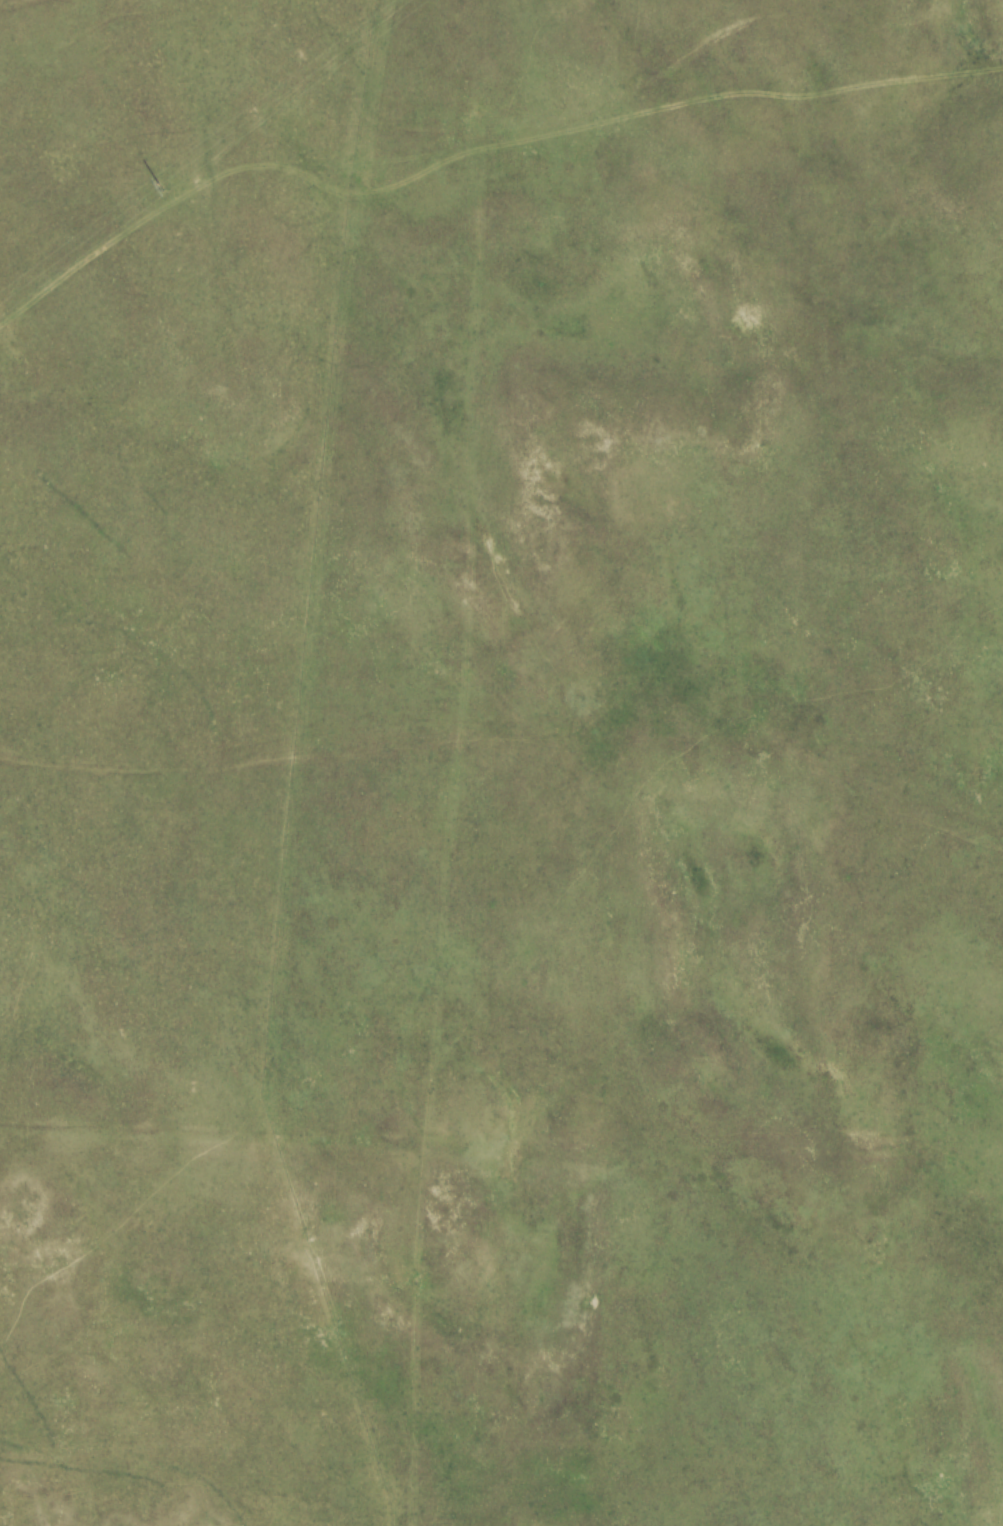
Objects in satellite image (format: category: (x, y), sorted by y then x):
power tower: (161, 187)

